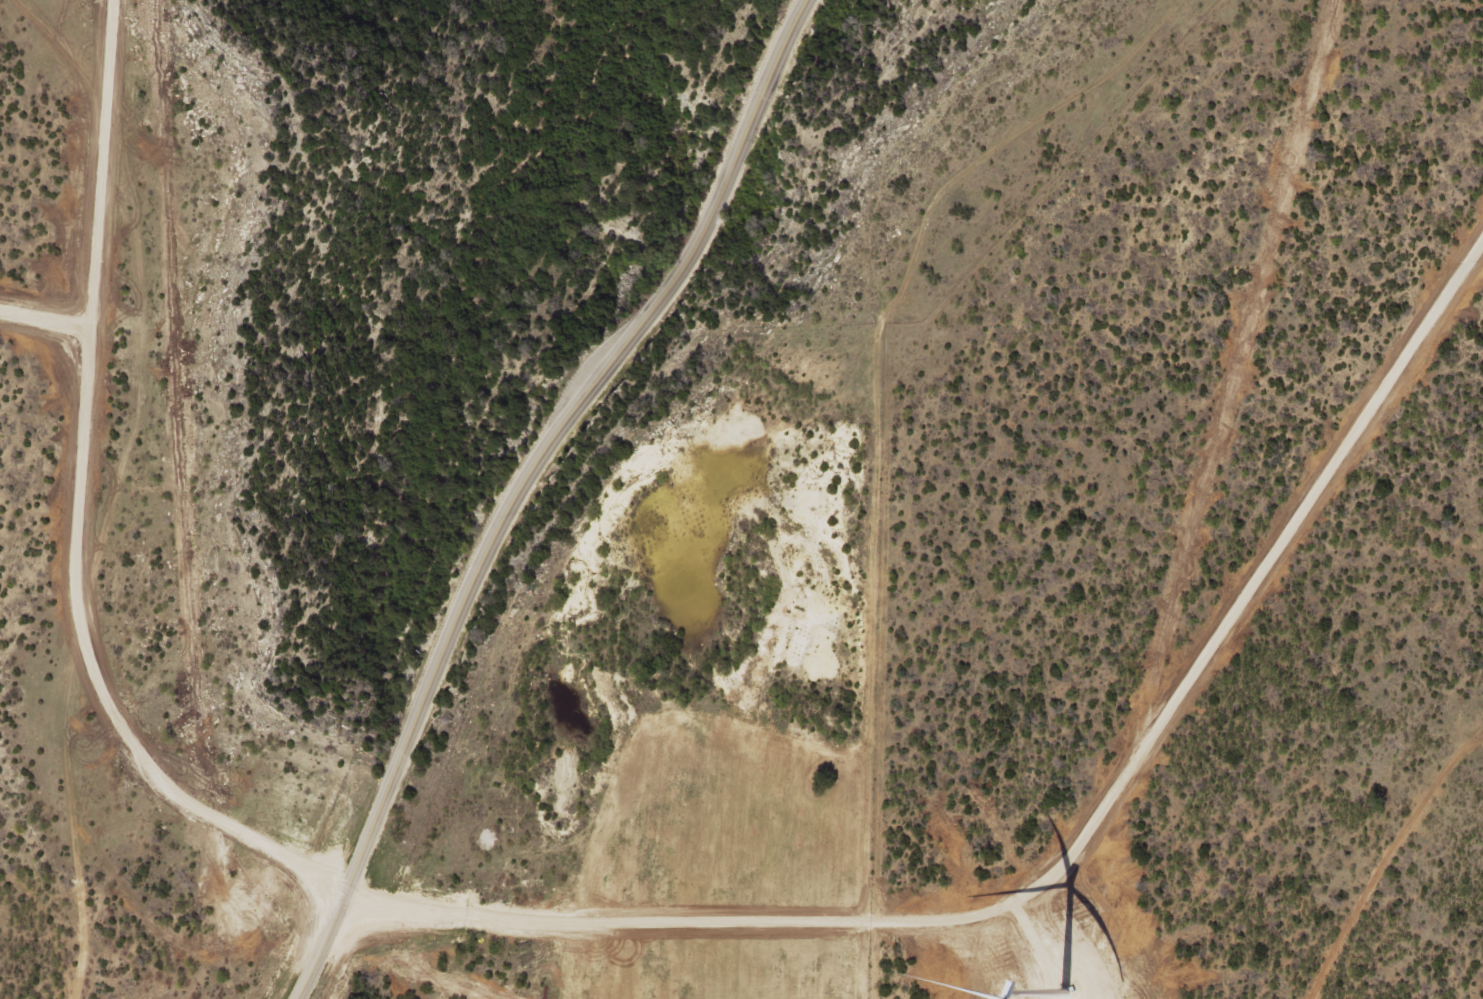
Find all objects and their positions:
road: (523, 483)
road: (1407, 917)
wind turbine: (1060, 981)

